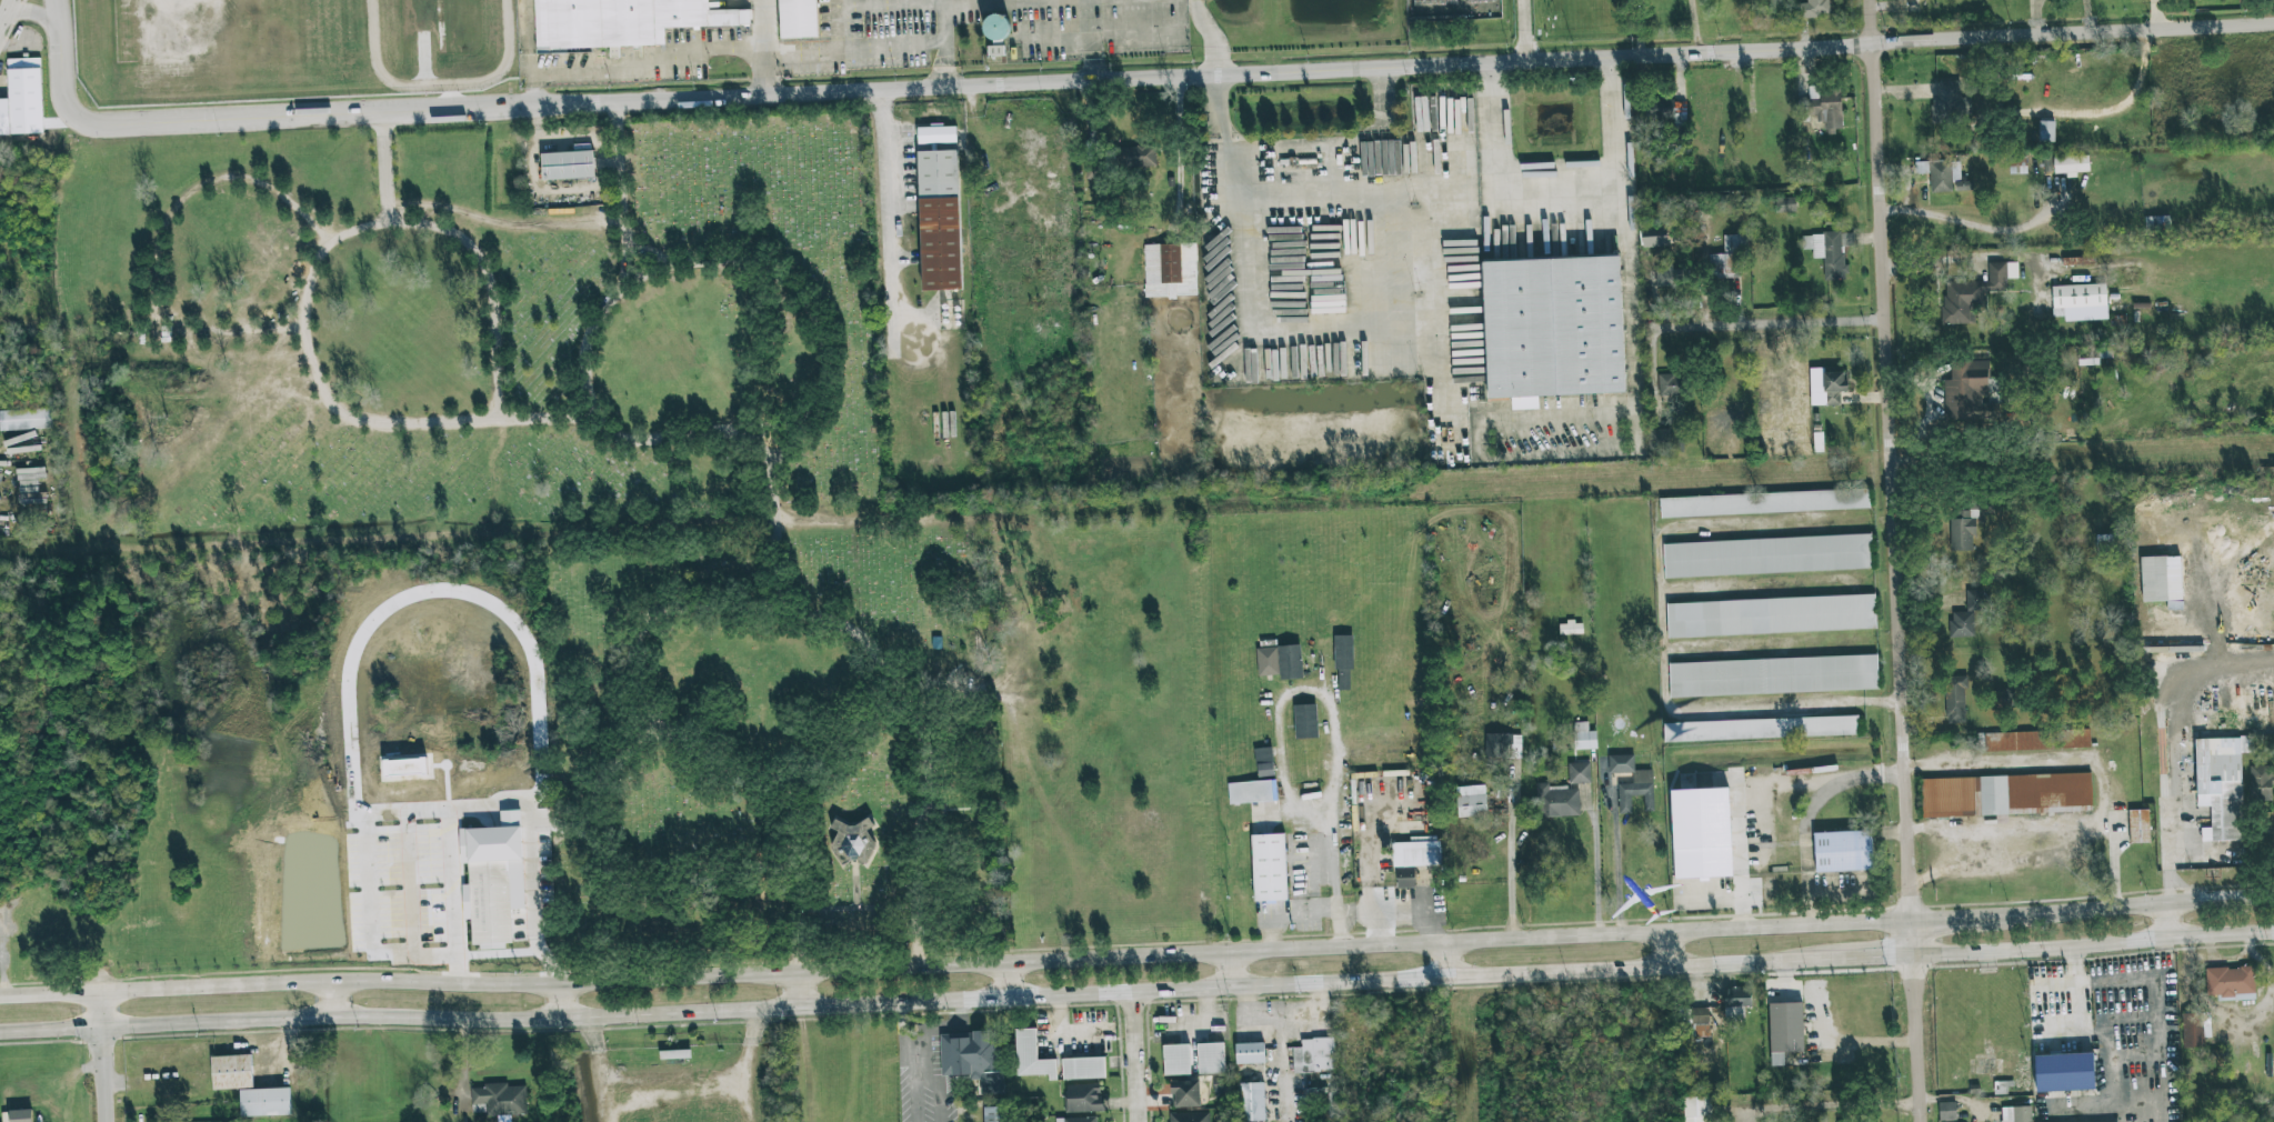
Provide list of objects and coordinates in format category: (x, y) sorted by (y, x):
building: (1812, 8)
road: (33, 12)
road: (8, 14)
road: (52, 14)
road: (2156, 16)
road: (2083, 17)
road: (2034, 18)
building: (800, 22)
building: (624, 24)
parking lot: (1008, 31)
road: (1530, 31)
road: (1214, 37)
road: (946, 44)
road: (767, 48)
road: (1747, 51)
road: (635, 63)
building: (22, 98)
road: (601, 102)
building: (1949, 102)
building: (1826, 107)
road: (2110, 110)
building: (1664, 111)
building: (936, 134)
building: (1135, 157)
building: (2071, 164)
road: (380, 169)
building: (568, 171)
building: (1943, 176)
road: (1906, 181)
road: (1304, 186)
road: (1557, 202)
building: (1785, 204)
road: (899, 209)
building: (940, 220)
road: (1974, 226)
building: (1654, 238)
road: (159, 247)
building: (1830, 251)
building: (1727, 259)
building: (2077, 261)
building: (1170, 270)
road: (648, 272)
road: (1631, 278)
building: (1664, 278)
building: (1974, 293)
building: (2077, 297)
road: (311, 298)
road: (1765, 323)
building: (1556, 335)
building: (1670, 384)
building: (1826, 387)
building: (1966, 391)
road: (1450, 392)
road: (823, 394)
building: (26, 419)
road: (792, 440)
building: (1659, 441)
road: (910, 475)
park: (589, 484)
building: (1764, 502)
building: (1963, 529)
building: (1767, 555)
road: (1896, 560)
building: (2161, 579)
building: (1771, 615)
building: (1966, 615)
building: (1571, 628)
building: (1280, 661)
building: (1343, 662)
road: (889, 665)
building: (1773, 675)
building: (2003, 699)
building: (1955, 700)
building: (1305, 721)
road: (1333, 722)
building: (1760, 729)
building: (1583, 737)
building: (1503, 747)
building: (1264, 762)
building: (404, 768)
road: (1950, 770)
building: (1580, 773)
building: (1632, 783)
building: (2258, 783)
building: (2221, 785)
building: (1252, 792)
building: (2006, 795)
building: (1471, 801)
building: (1556, 801)
building: (2138, 827)
building: (1701, 833)
building: (852, 841)
building: (1843, 851)
building: (1416, 852)
road: (1512, 852)
road: (2113, 861)
road: (1806, 863)
road: (1616, 864)
road: (1595, 865)
building: (1269, 868)
building: (1405, 878)
road: (535, 893)
building: (491, 902)
road: (2141, 904)
road: (1399, 912)
road: (1961, 915)
road: (1290, 916)
road: (2170, 921)
road: (1571, 936)
road: (2094, 946)
road: (1669, 951)
road: (1876, 960)
road: (1440, 961)
road: (1231, 971)
road: (1004, 980)
road: (614, 981)
building: (2231, 983)
road: (795, 990)
road: (332, 999)
road: (561, 1001)
road: (919, 1002)
building: (1736, 1002)
road: (1281, 1011)
building: (1700, 1022)
road: (2156, 1025)
building: (2195, 1029)
building: (1784, 1031)
road: (1825, 1036)
road: (277, 1050)
building: (1250, 1053)
building: (1314, 1055)
building: (1032, 1056)
road: (100, 1058)
road: (1134, 1058)
building: (1211, 1058)
building: (973, 1059)
building: (1176, 1060)
road: (1280, 1066)
building: (1083, 1068)
building: (232, 1072)
building: (2064, 1072)
building: (1185, 1093)
building: (1083, 1099)
building: (499, 1100)
building: (264, 1102)
building: (1253, 1102)
building: (1697, 1109)
building: (1946, 1111)
building: (994, 1114)
building: (2016, 1114)
building: (18, 1115)
building: (1190, 1116)
building: (1844, 1121)
building: (1947, 1121)

